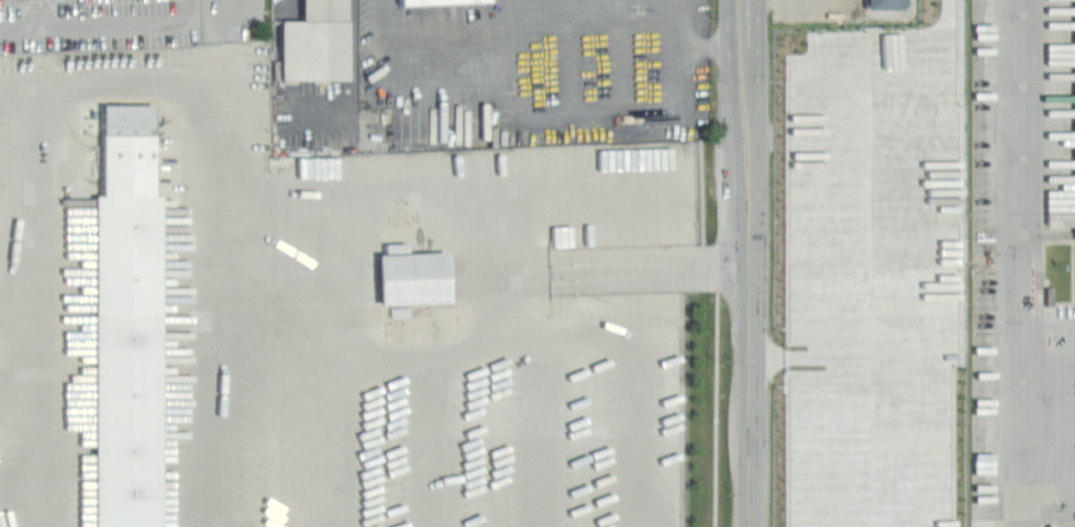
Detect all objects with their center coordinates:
building: (439, 1)
parking lot: (810, 10)
road: (106, 21)
parking lot: (122, 22)
road: (529, 23)
building: (314, 41)
parking lot: (533, 70)
building: (1074, 79)
road: (278, 83)
road: (152, 89)
road: (513, 98)
road: (687, 99)
parking lot: (312, 100)
road: (595, 114)
road: (1019, 162)
road: (926, 171)
road: (37, 191)
road: (749, 262)
parking lot: (1023, 263)
road: (215, 272)
building: (414, 276)
parking lot: (874, 278)
parking lot: (323, 312)
building: (128, 323)
road: (487, 347)
road: (829, 350)
road: (19, 386)
road: (37, 391)
road: (537, 397)
road: (1019, 399)
road: (429, 437)
road: (19, 486)
road: (1048, 493)

